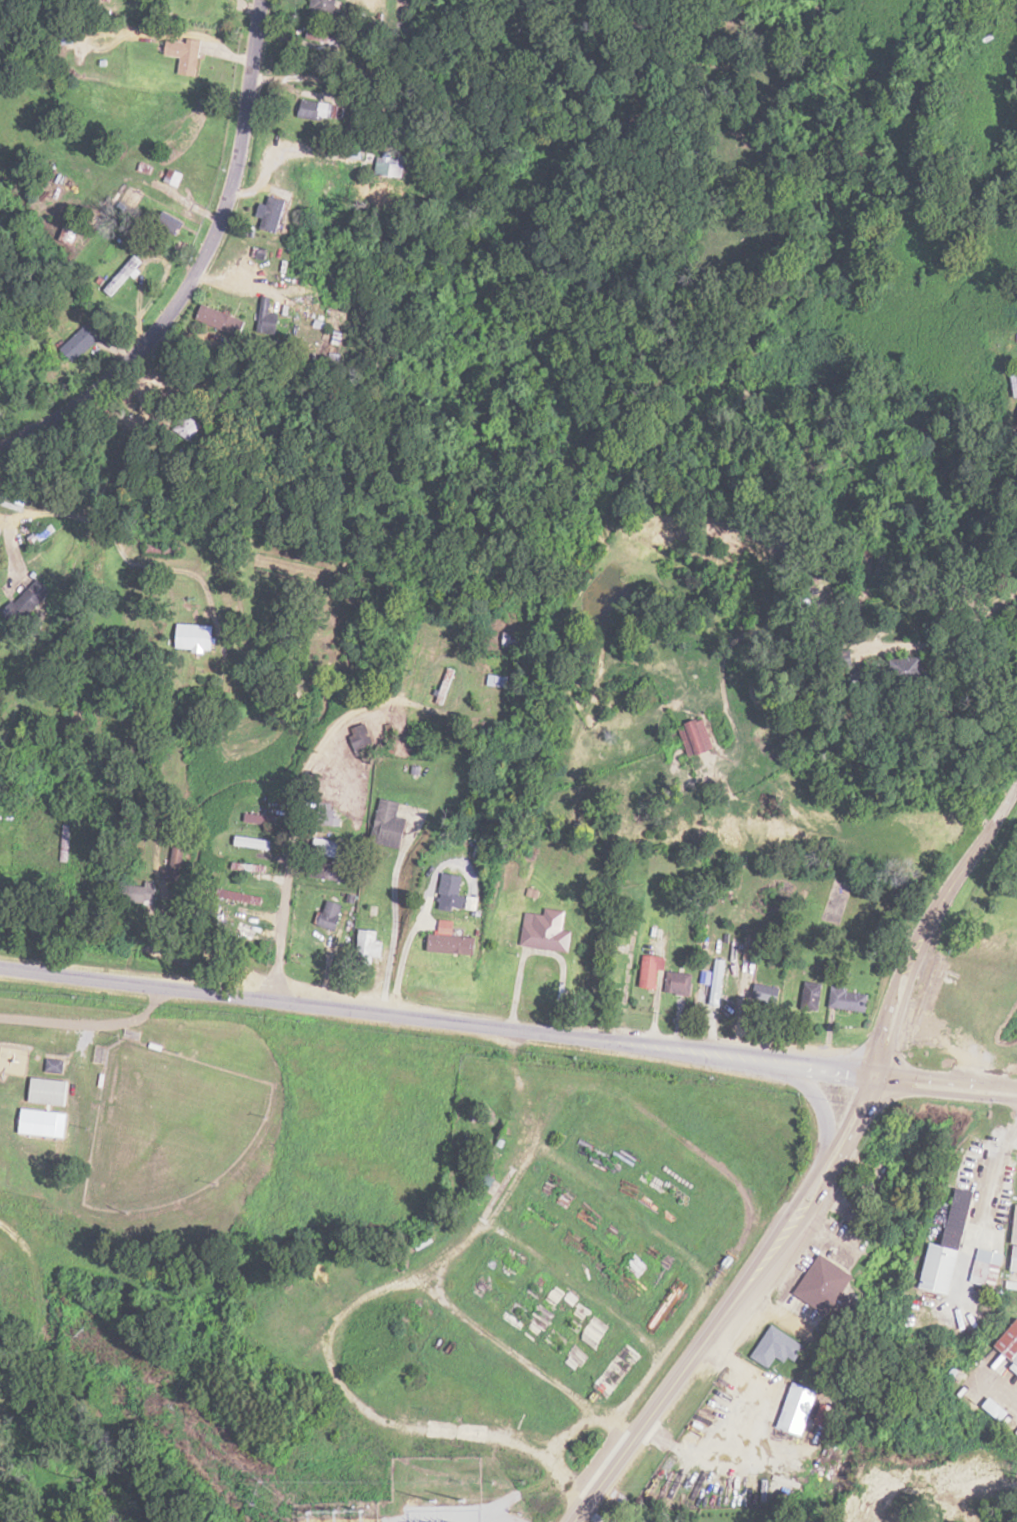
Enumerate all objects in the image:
building: (323, 9)
building: (320, 42)
building: (185, 54)
building: (316, 110)
building: (393, 166)
building: (283, 176)
building: (174, 177)
building: (272, 214)
building: (168, 224)
road: (196, 264)
building: (123, 275)
building: (218, 320)
building: (82, 341)
building: (26, 601)
building: (509, 639)
building: (911, 671)
building: (697, 738)
building: (361, 739)
road: (297, 822)
building: (385, 824)
building: (253, 843)
building: (176, 859)
building: (454, 894)
building: (329, 915)
building: (545, 937)
building: (366, 944)
building: (453, 945)
building: (649, 972)
building: (715, 980)
building: (676, 982)
building: (762, 998)
building: (850, 1002)
road: (437, 1020)
building: (56, 1064)
road: (946, 1081)
building: (51, 1091)
park: (156, 1124)
park: (181, 1153)
road: (831, 1158)
road: (419, 1211)
building: (863, 1212)
building: (423, 1241)
building: (944, 1267)
building: (991, 1267)
building: (828, 1284)
building: (780, 1347)
building: (800, 1408)
building: (1000, 1409)
power substation: (334, 1511)

